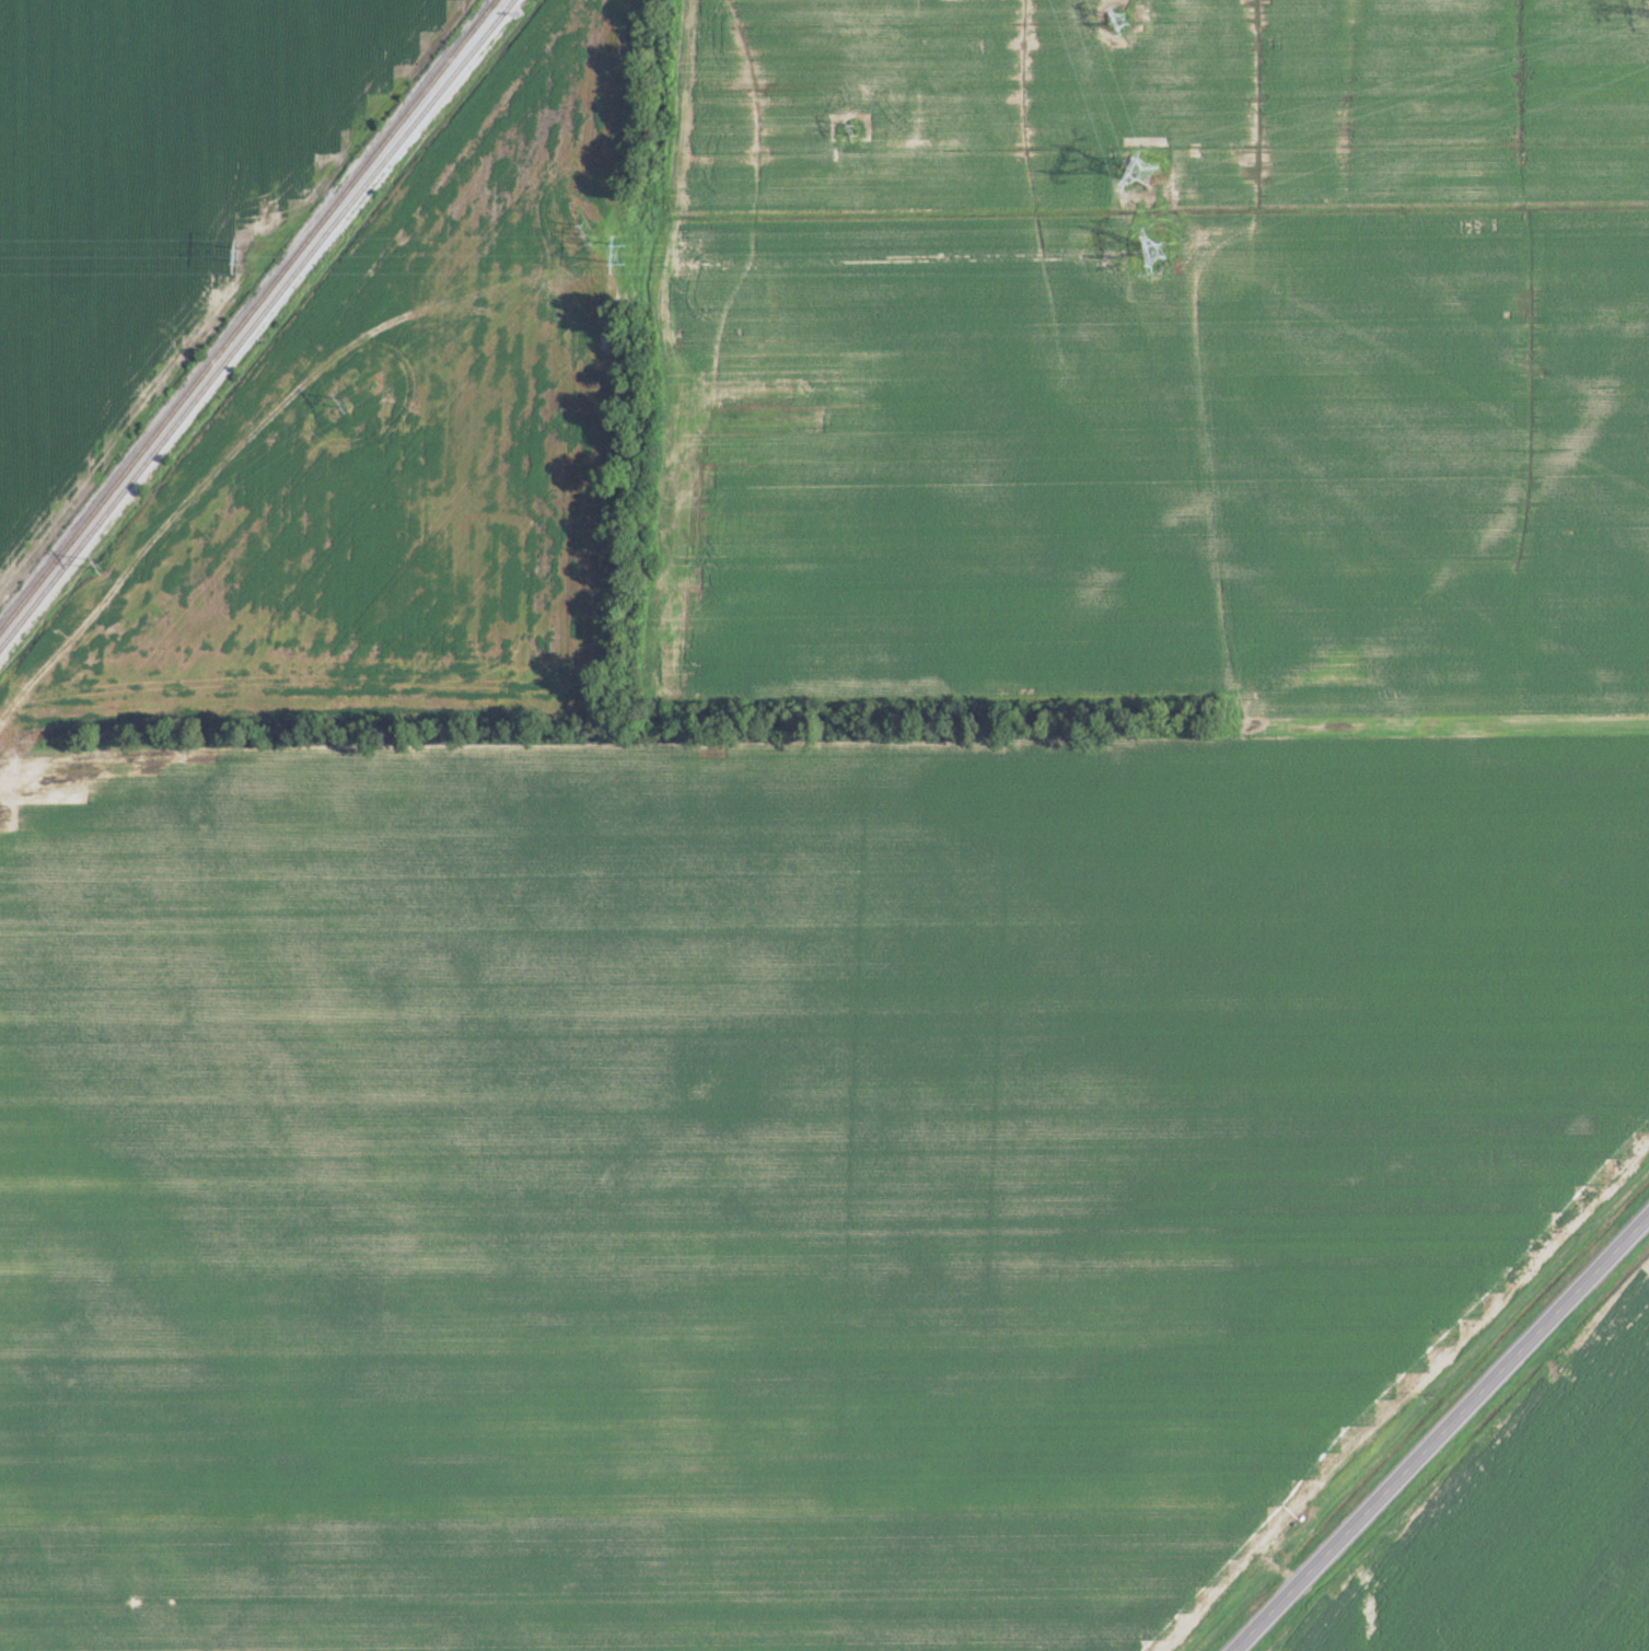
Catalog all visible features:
power tower: (1120, 21)
power tower: (851, 127)
railway: (383, 163)
power tower: (1151, 168)
power tower: (588, 233)
power tower: (620, 251)
power tower: (246, 252)
power tower: (1161, 252)
railway: (247, 315)
crop: (403, 437)
railway: (126, 486)
road: (1444, 1437)

